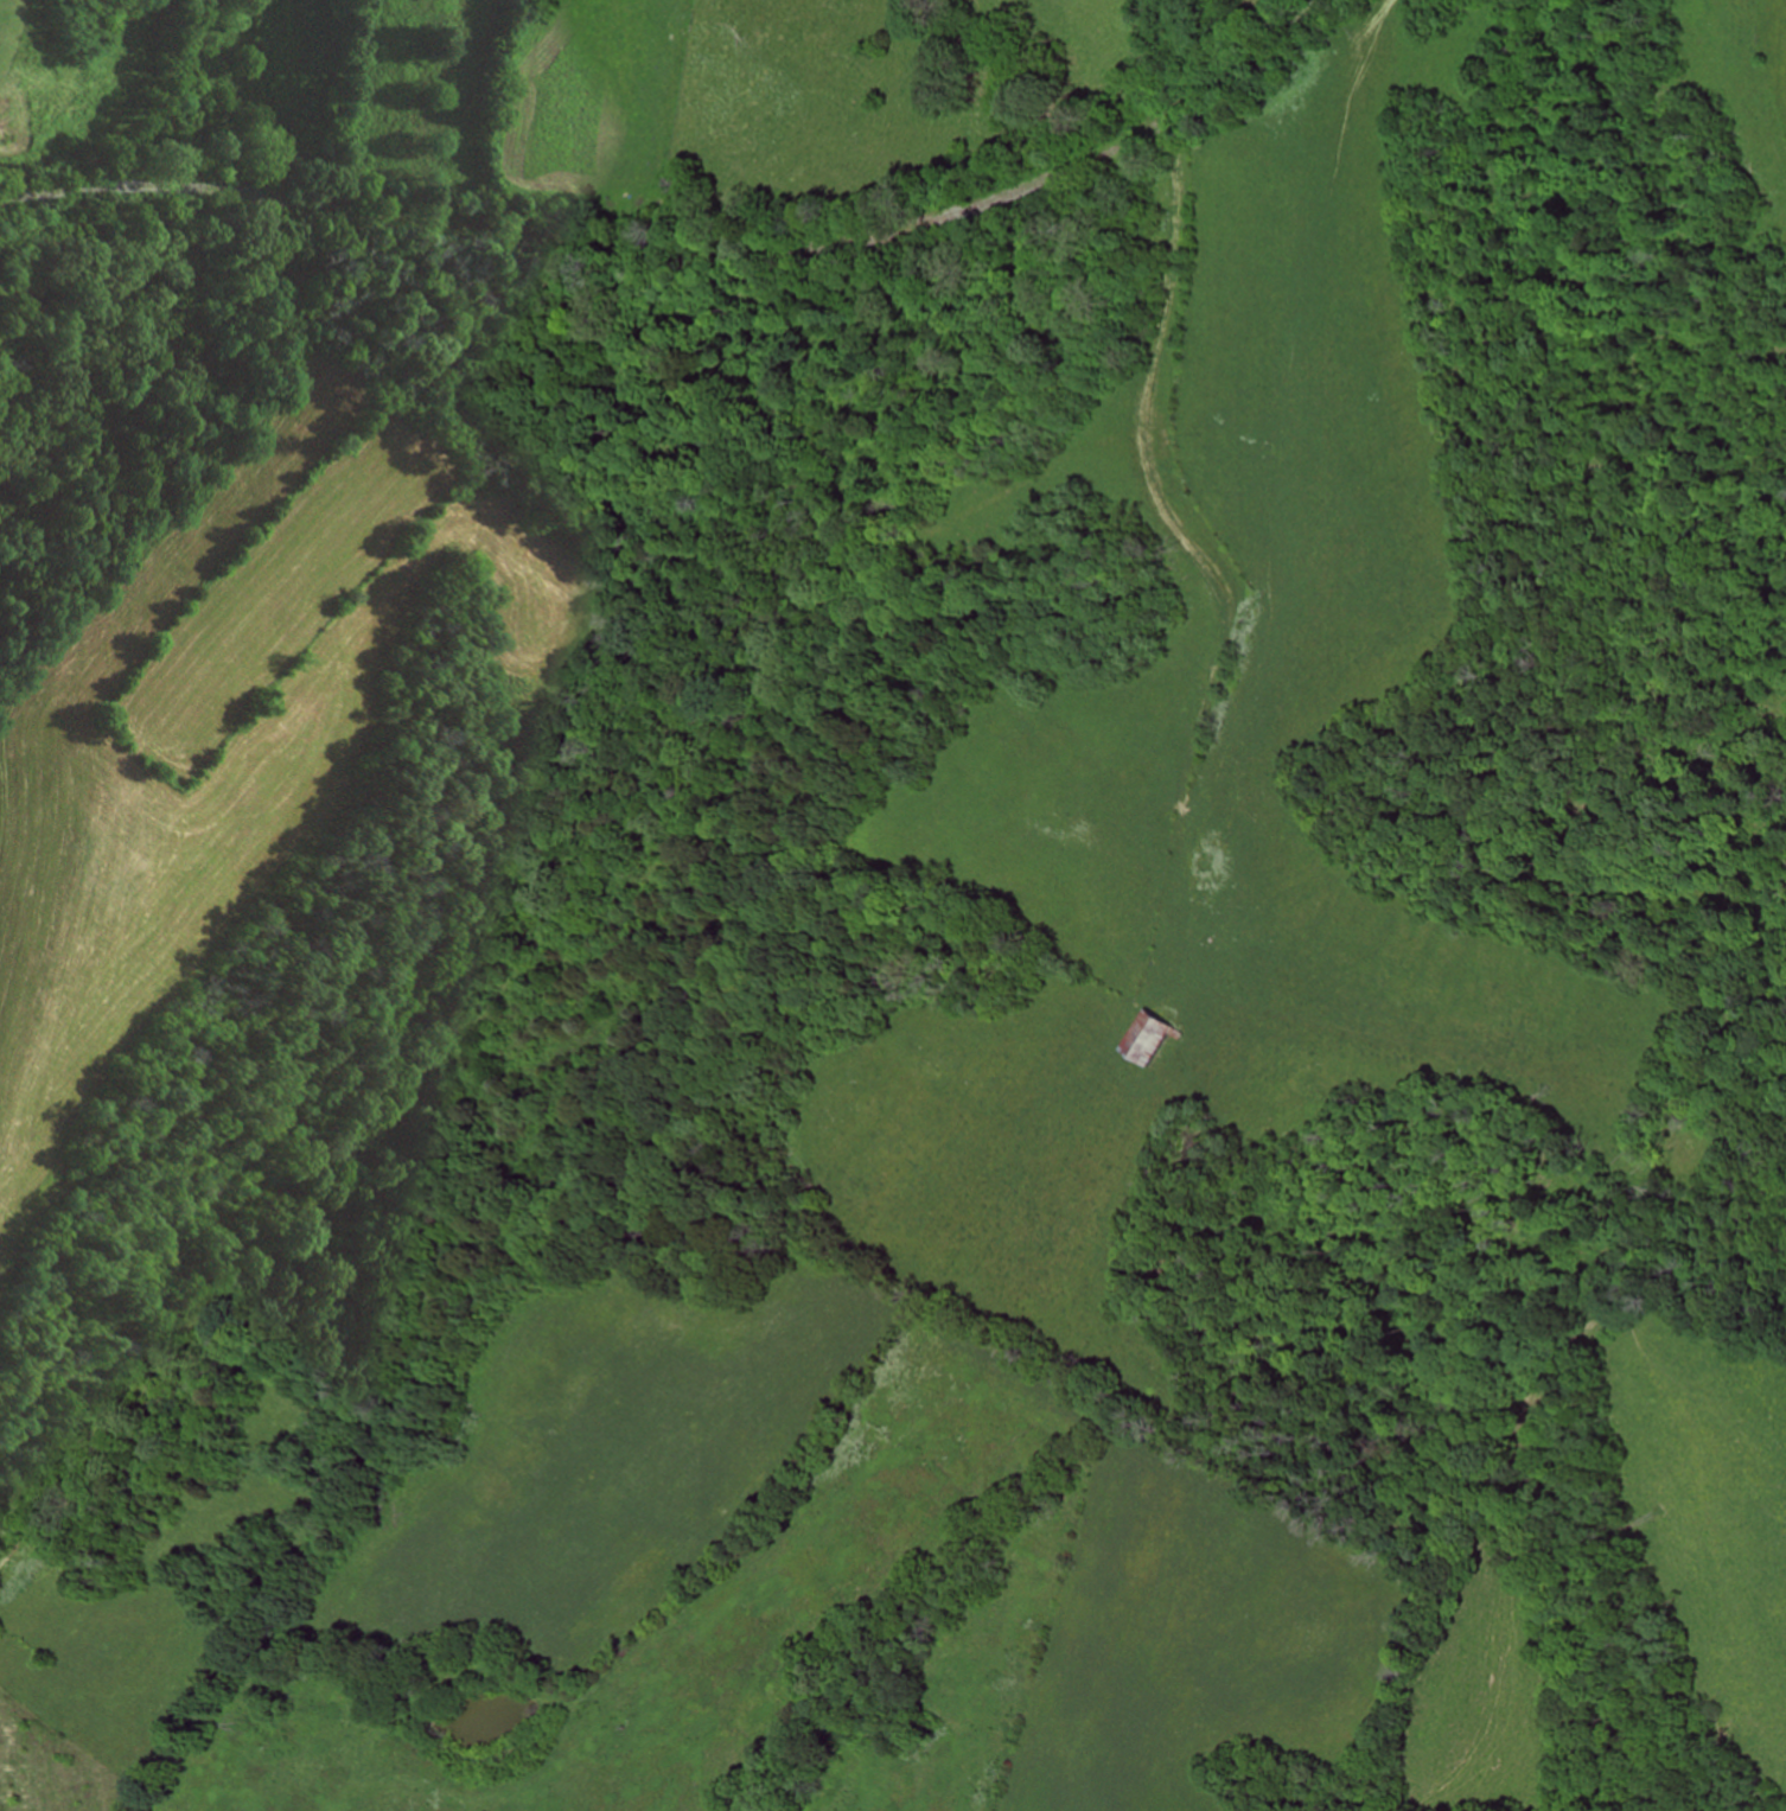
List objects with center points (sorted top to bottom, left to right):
railway: (680, 227)
building: (1155, 1034)

